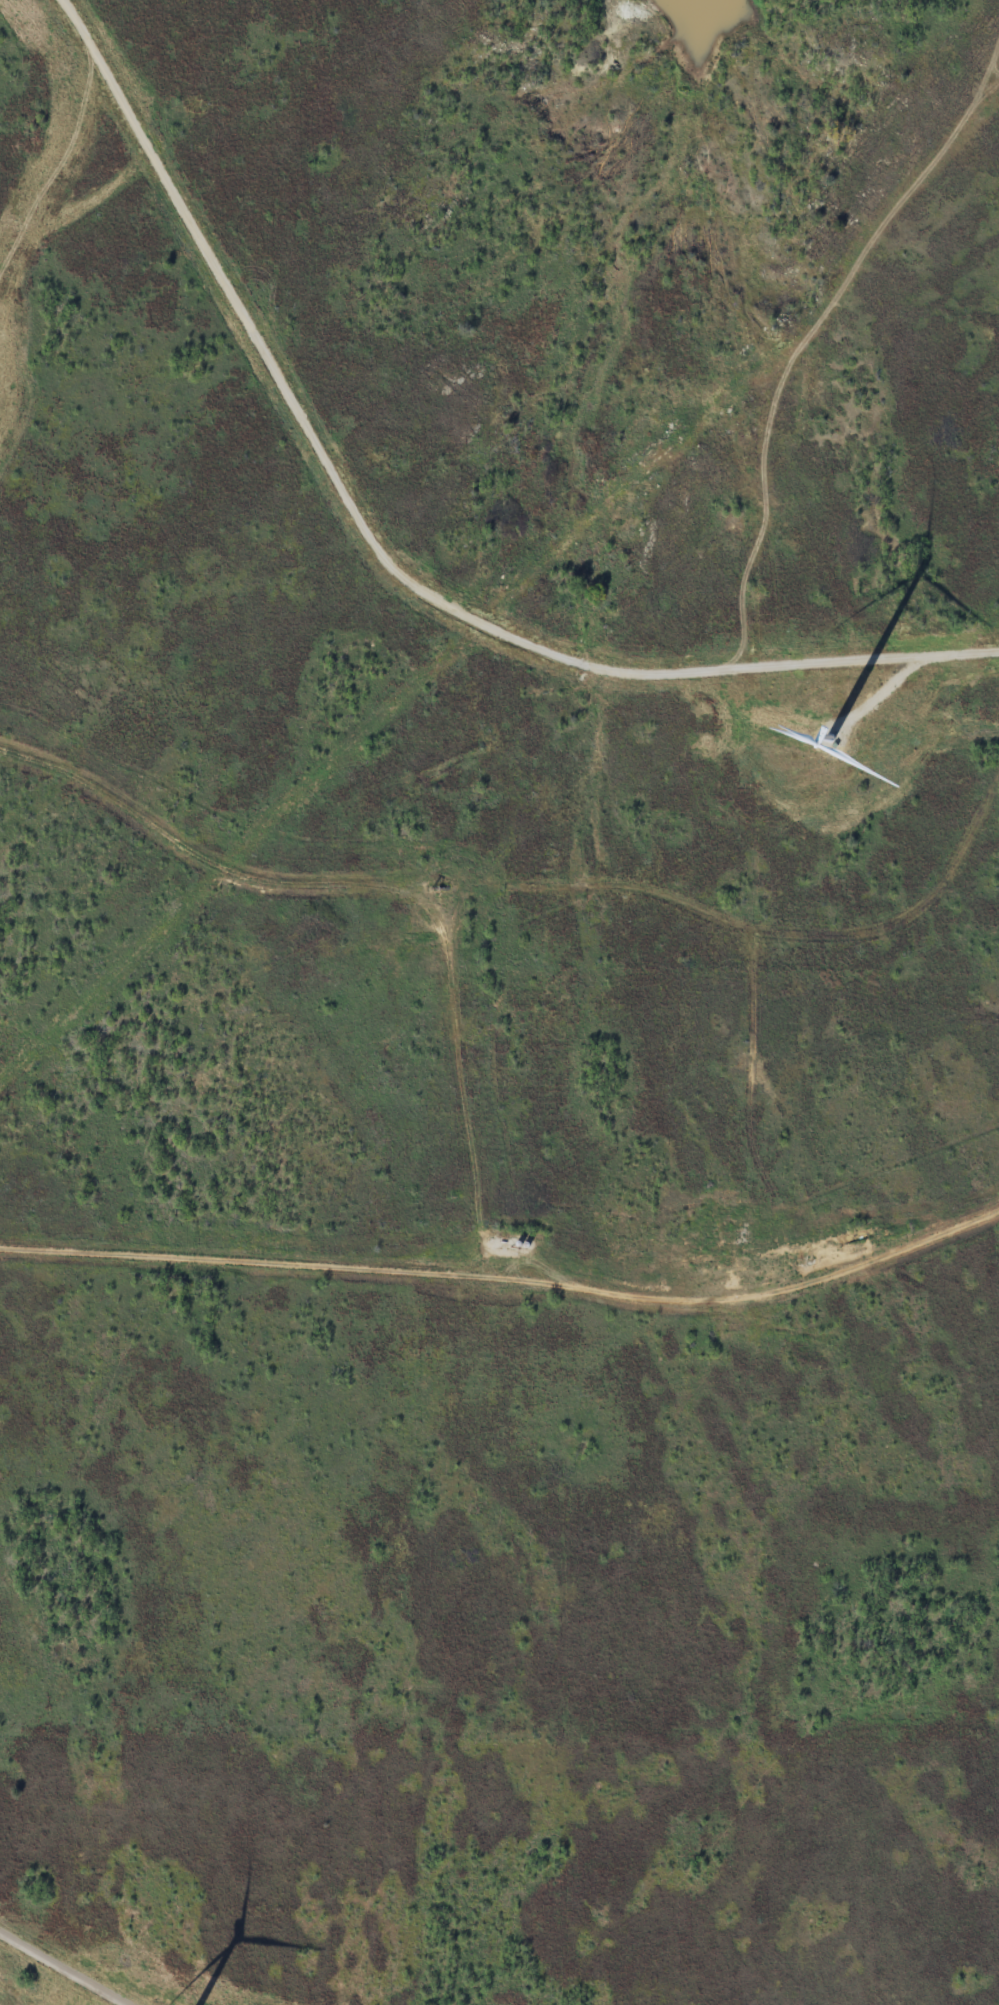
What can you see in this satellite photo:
road: (394, 550)
wind turbine: (828, 735)
road: (533, 875)
road: (510, 1276)
road: (66, 1975)

